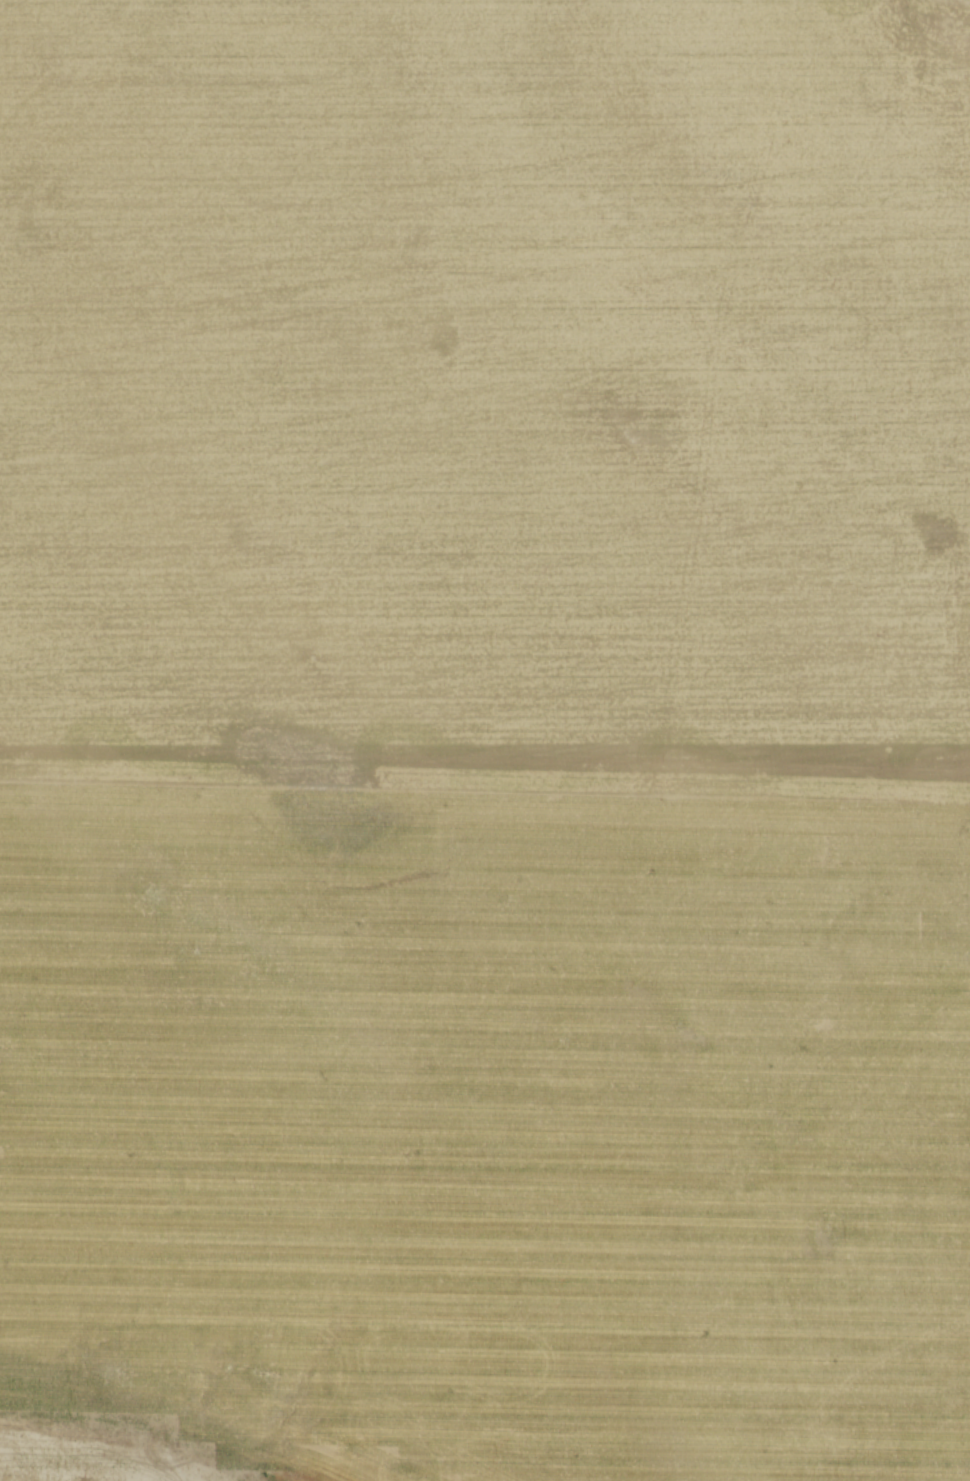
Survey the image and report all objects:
crop: (485, 740)

